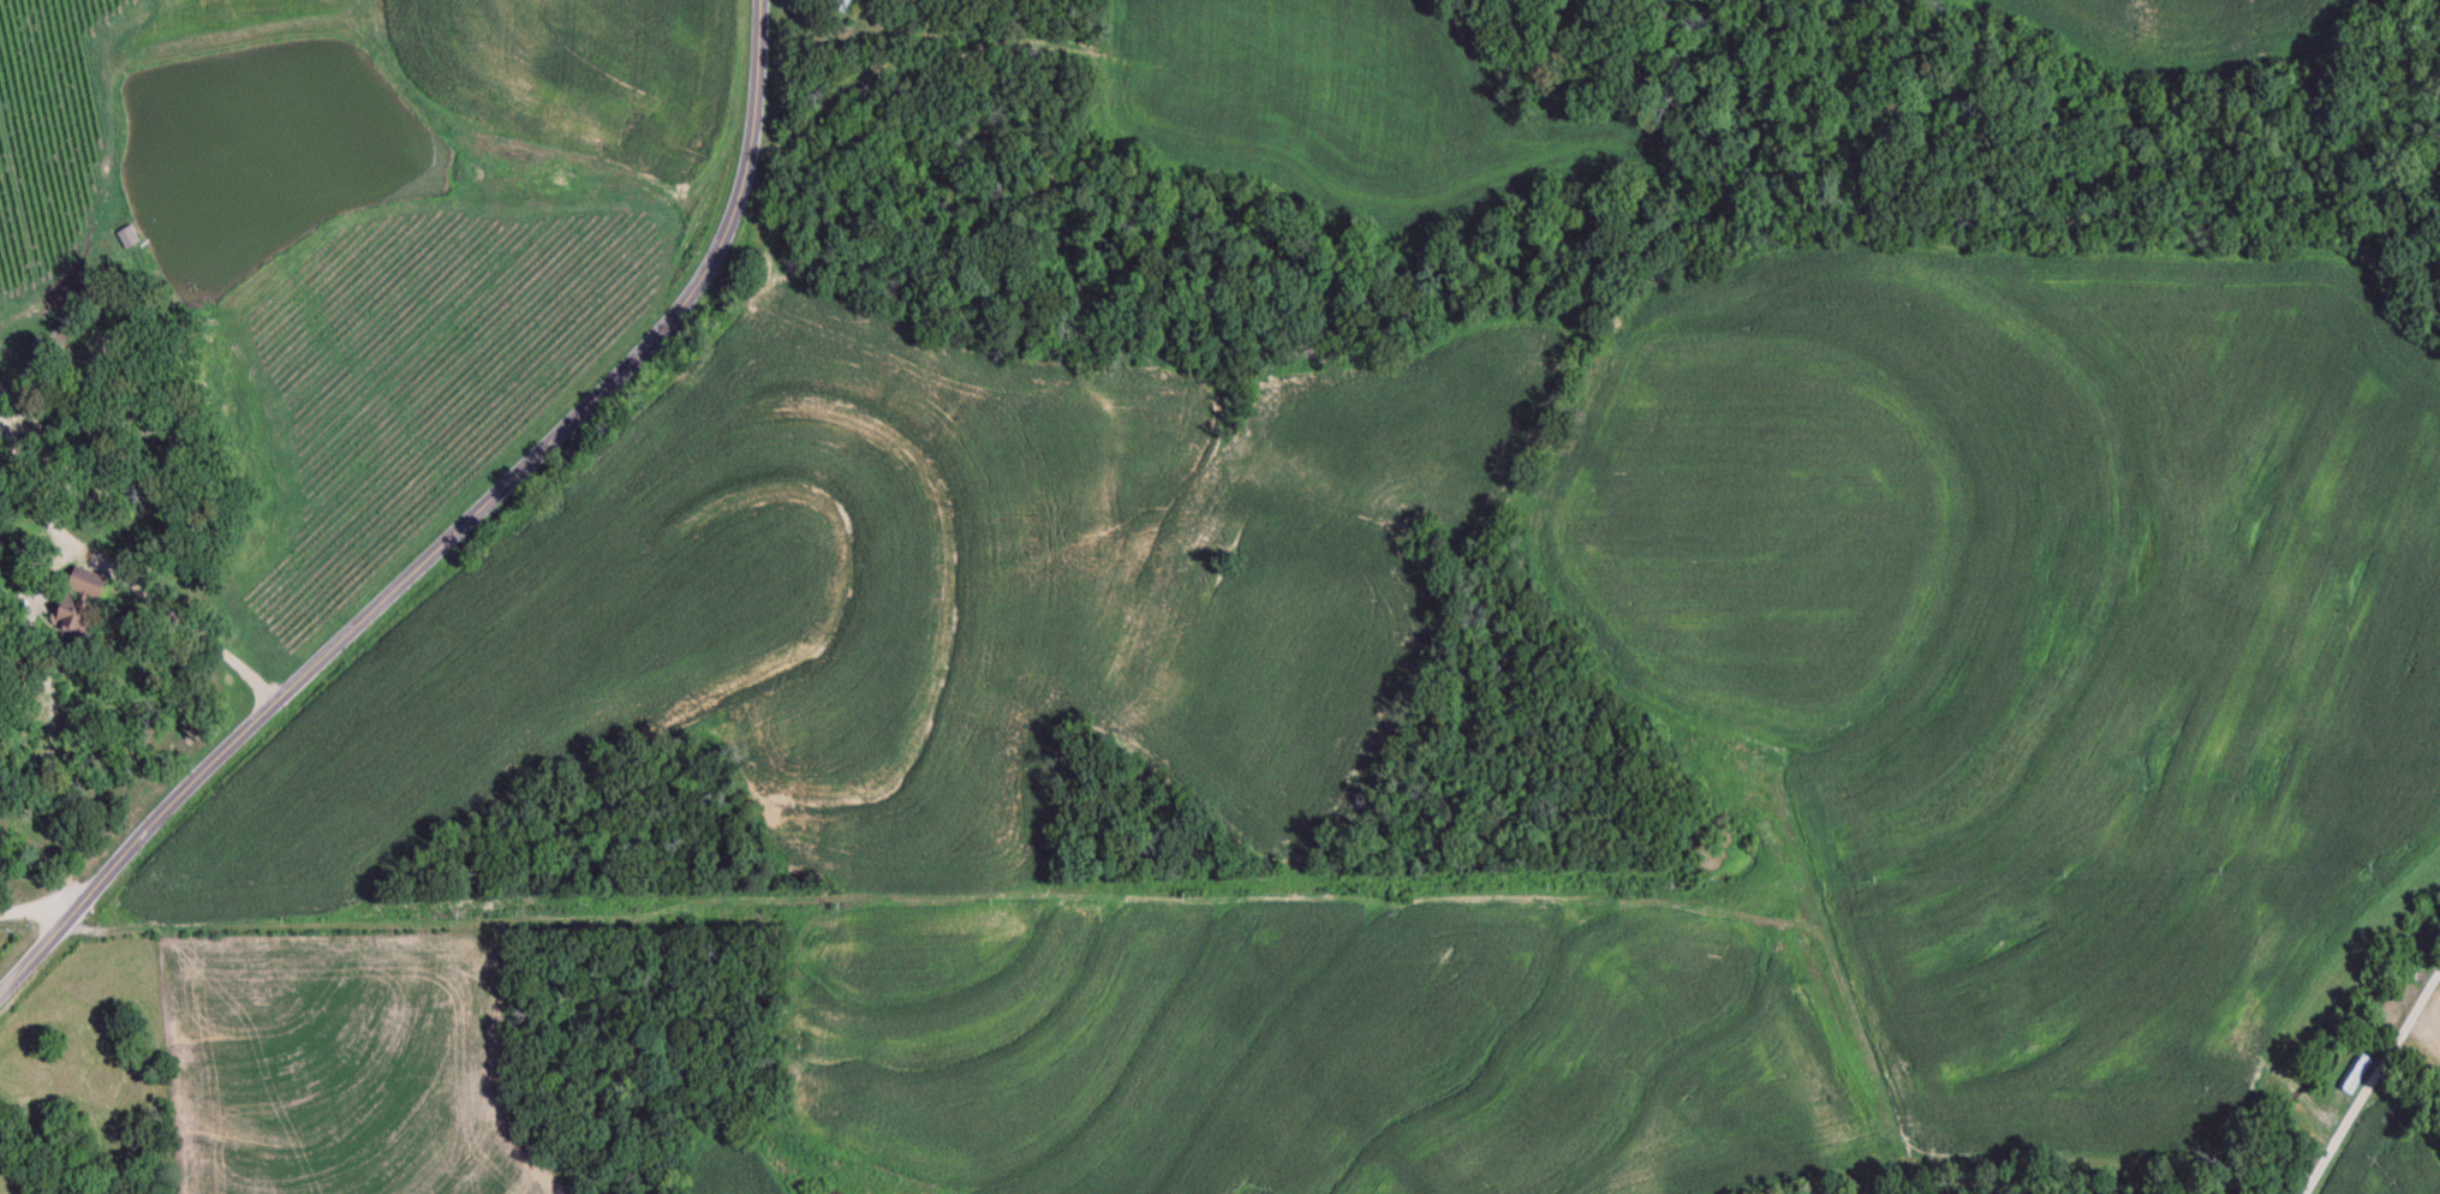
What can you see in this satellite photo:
road: (471, 569)
road: (2230, 816)
road: (40, 915)

